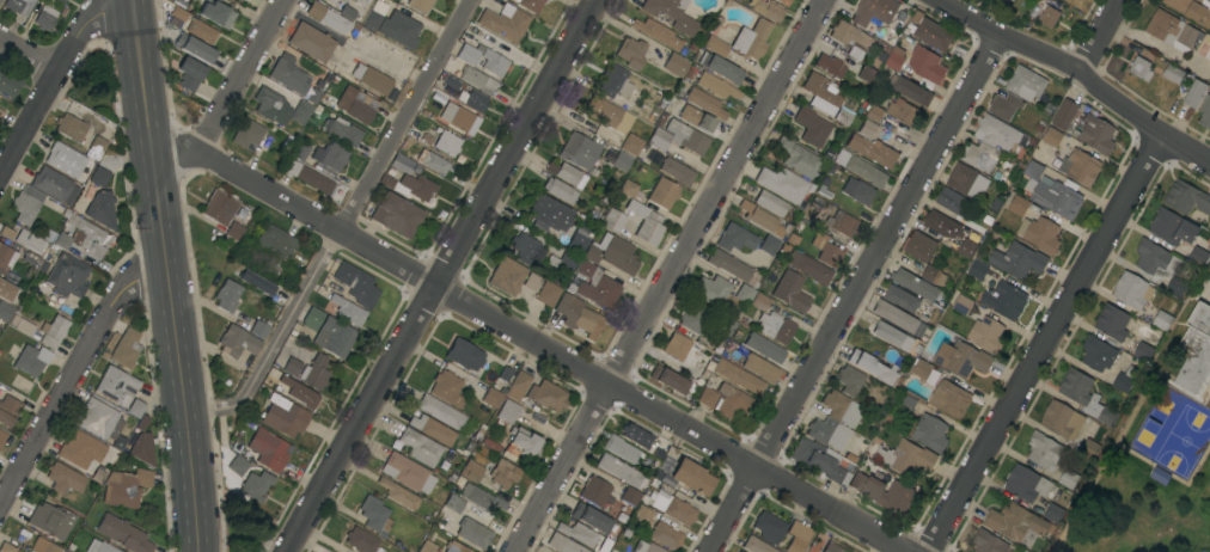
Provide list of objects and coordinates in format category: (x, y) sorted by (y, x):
building: (207, 0)
building: (246, 0)
building: (346, 0)
building: (359, 0)
building: (985, 0)
building: (1003, 0)
building: (61, 1)
building: (782, 2)
building: (16, 5)
building: (420, 5)
building: (530, 5)
building: (1191, 10)
building: (768, 11)
building: (873, 12)
building: (347, 13)
building: (216, 14)
building: (671, 14)
building: (326, 17)
building: (1047, 17)
building: (44, 18)
building: (372, 20)
building: (505, 24)
building: (399, 30)
building: (202, 31)
building: (1172, 31)
building: (929, 32)
building: (656, 33)
building: (849, 35)
road: (1094, 35)
building: (751, 39)
building: (891, 41)
building: (311, 42)
building: (715, 47)
building: (195, 48)
building: (1204, 48)
building: (631, 53)
road: (27, 55)
building: (894, 59)
building: (495, 61)
building: (674, 65)
building: (925, 65)
building: (829, 66)
building: (720, 68)
building: (1139, 69)
road: (1077, 72)
building: (189, 74)
building: (288, 74)
building: (866, 74)
building: (1172, 74)
road: (238, 75)
building: (369, 78)
building: (477, 80)
building: (613, 82)
building: (8, 84)
building: (452, 84)
building: (1025, 84)
road: (48, 85)
building: (716, 86)
building: (910, 90)
building: (821, 93)
building: (1193, 94)
building: (312, 98)
building: (472, 100)
building: (330, 102)
building: (704, 103)
building: (1004, 105)
building: (271, 106)
building: (361, 108)
building: (603, 111)
building: (870, 111)
building: (1204, 111)
building: (301, 112)
building: (903, 112)
building: (1, 114)
building: (1064, 115)
building: (843, 116)
building: (459, 118)
building: (697, 121)
building: (69, 127)
building: (811, 127)
building: (867, 129)
building: (342, 131)
building: (247, 134)
building: (998, 134)
building: (1096, 135)
building: (677, 137)
building: (1051, 137)
building: (442, 142)
building: (631, 145)
building: (96, 148)
building: (299, 151)
building: (579, 151)
building: (872, 151)
building: (330, 157)
building: (979, 157)
building: (796, 158)
building: (65, 160)
building: (621, 161)
building: (432, 162)
building: (401, 164)
building: (1082, 167)
building: (864, 171)
building: (1032, 171)
building: (677, 172)
building: (567, 174)
building: (98, 177)
building: (316, 180)
building: (966, 182)
building: (782, 184)
building: (54, 185)
building: (410, 186)
building: (628, 188)
building: (558, 190)
building: (662, 194)
building: (861, 194)
building: (1057, 197)
building: (1186, 198)
building: (948, 200)
building: (770, 203)
building: (994, 203)
building: (26, 204)
building: (1017, 206)
building: (219, 207)
building: (98, 208)
building: (550, 214)
building: (396, 215)
building: (759, 217)
building: (612, 220)
building: (841, 223)
building: (940, 223)
building: (1172, 227)
building: (649, 229)
building: (234, 231)
road: (335, 233)
building: (1039, 234)
building: (49, 237)
building: (88, 238)
building: (735, 238)
building: (1208, 240)
building: (29, 241)
building: (62, 241)
building: (275, 241)
building: (577, 243)
building: (768, 245)
building: (918, 246)
building: (527, 250)
building: (826, 251)
building: (612, 253)
building: (1198, 256)
building: (6, 259)
building: (1017, 260)
building: (1156, 260)
building: (567, 263)
building: (45, 264)
building: (808, 268)
building: (977, 270)
building: (735, 274)
building: (930, 274)
road: (166, 275)
road: (442, 276)
building: (507, 276)
road: (668, 276)
building: (66, 278)
building: (256, 282)
building: (532, 282)
building: (356, 284)
building: (915, 284)
building: (595, 286)
building: (1175, 286)
building: (710, 290)
building: (1131, 290)
road: (1204, 290)
building: (6, 292)
building: (790, 292)
road: (852, 292)
building: (548, 294)
building: (227, 295)
building: (900, 299)
building: (1004, 300)
building: (759, 302)
building: (68, 305)
building: (961, 305)
building: (927, 307)
building: (5, 311)
building: (348, 311)
building: (577, 317)
building: (695, 318)
building: (898, 318)
building: (922, 318)
building: (13, 319)
building: (1161, 320)
building: (1112, 323)
building: (726, 325)
building: (23, 327)
building: (775, 327)
building: (259, 330)
building: (53, 331)
building: (329, 332)
building: (985, 335)
road: (527, 337)
building: (893, 337)
building: (237, 342)
road: (1045, 343)
building: (676, 348)
building: (763, 348)
building: (124, 349)
building: (1194, 349)
building: (1143, 352)
building: (1096, 354)
building: (464, 355)
building: (31, 360)
building: (960, 360)
building: (705, 361)
building: (292, 367)
building: (872, 367)
building: (760, 368)
building: (921, 369)
building: (314, 373)
road: (71, 374)
building: (503, 374)
building: (738, 378)
building: (667, 380)
building: (849, 380)
building: (520, 381)
building: (1122, 382)
building: (116, 386)
building: (446, 388)
building: (299, 392)
road: (1202, 393)
building: (546, 397)
building: (1084, 397)
building: (491, 398)
building: (707, 398)
building: (949, 399)
road: (1187, 400)
building: (731, 403)
building: (904, 404)
building: (136, 409)
building: (841, 409)
building: (8, 411)
building: (441, 412)
building: (506, 412)
building: (283, 416)
building: (97, 418)
building: (1061, 421)
park: (1154, 421)
building: (141, 423)
road: (1165, 425)
building: (433, 429)
building: (929, 433)
building: (827, 434)
building: (634, 436)
building: (2, 437)
road: (1117, 438)
park: (1184, 441)
building: (118, 442)
building: (521, 444)
building: (142, 448)
building: (420, 448)
building: (81, 449)
building: (621, 449)
building: (1089, 449)
building: (265, 450)
building: (1043, 450)
park: (1155, 453)
building: (905, 458)
building: (818, 460)
building: (238, 465)
building: (471, 472)
building: (622, 472)
building: (408, 473)
building: (505, 473)
building: (98, 476)
building: (691, 478)
building: (63, 479)
building: (1067, 479)
building: (1025, 484)
building: (256, 486)
building: (124, 487)
building: (884, 492)
building: (595, 493)
building: (398, 495)
building: (630, 497)
building: (481, 498)
building: (453, 503)
building: (670, 507)
building: (643, 513)
building: (1053, 514)
building: (375, 516)
building: (591, 519)
building: (51, 521)
building: (1015, 523)
building: (769, 527)
building: (472, 533)
building: (123, 534)
building: (577, 534)
building: (666, 535)
building: (797, 536)
building: (360, 540)
building: (988, 542)
building: (562, 544)
building: (604, 545)
building: (43, 546)
building: (99, 546)
building: (427, 546)
building: (756, 546)
building: (6, 547)
building: (454, 547)
building: (646, 547)
building: (831, 548)
building: (612, 551)
building: (735, 551)
building: (739, 551)
building: (742, 551)

